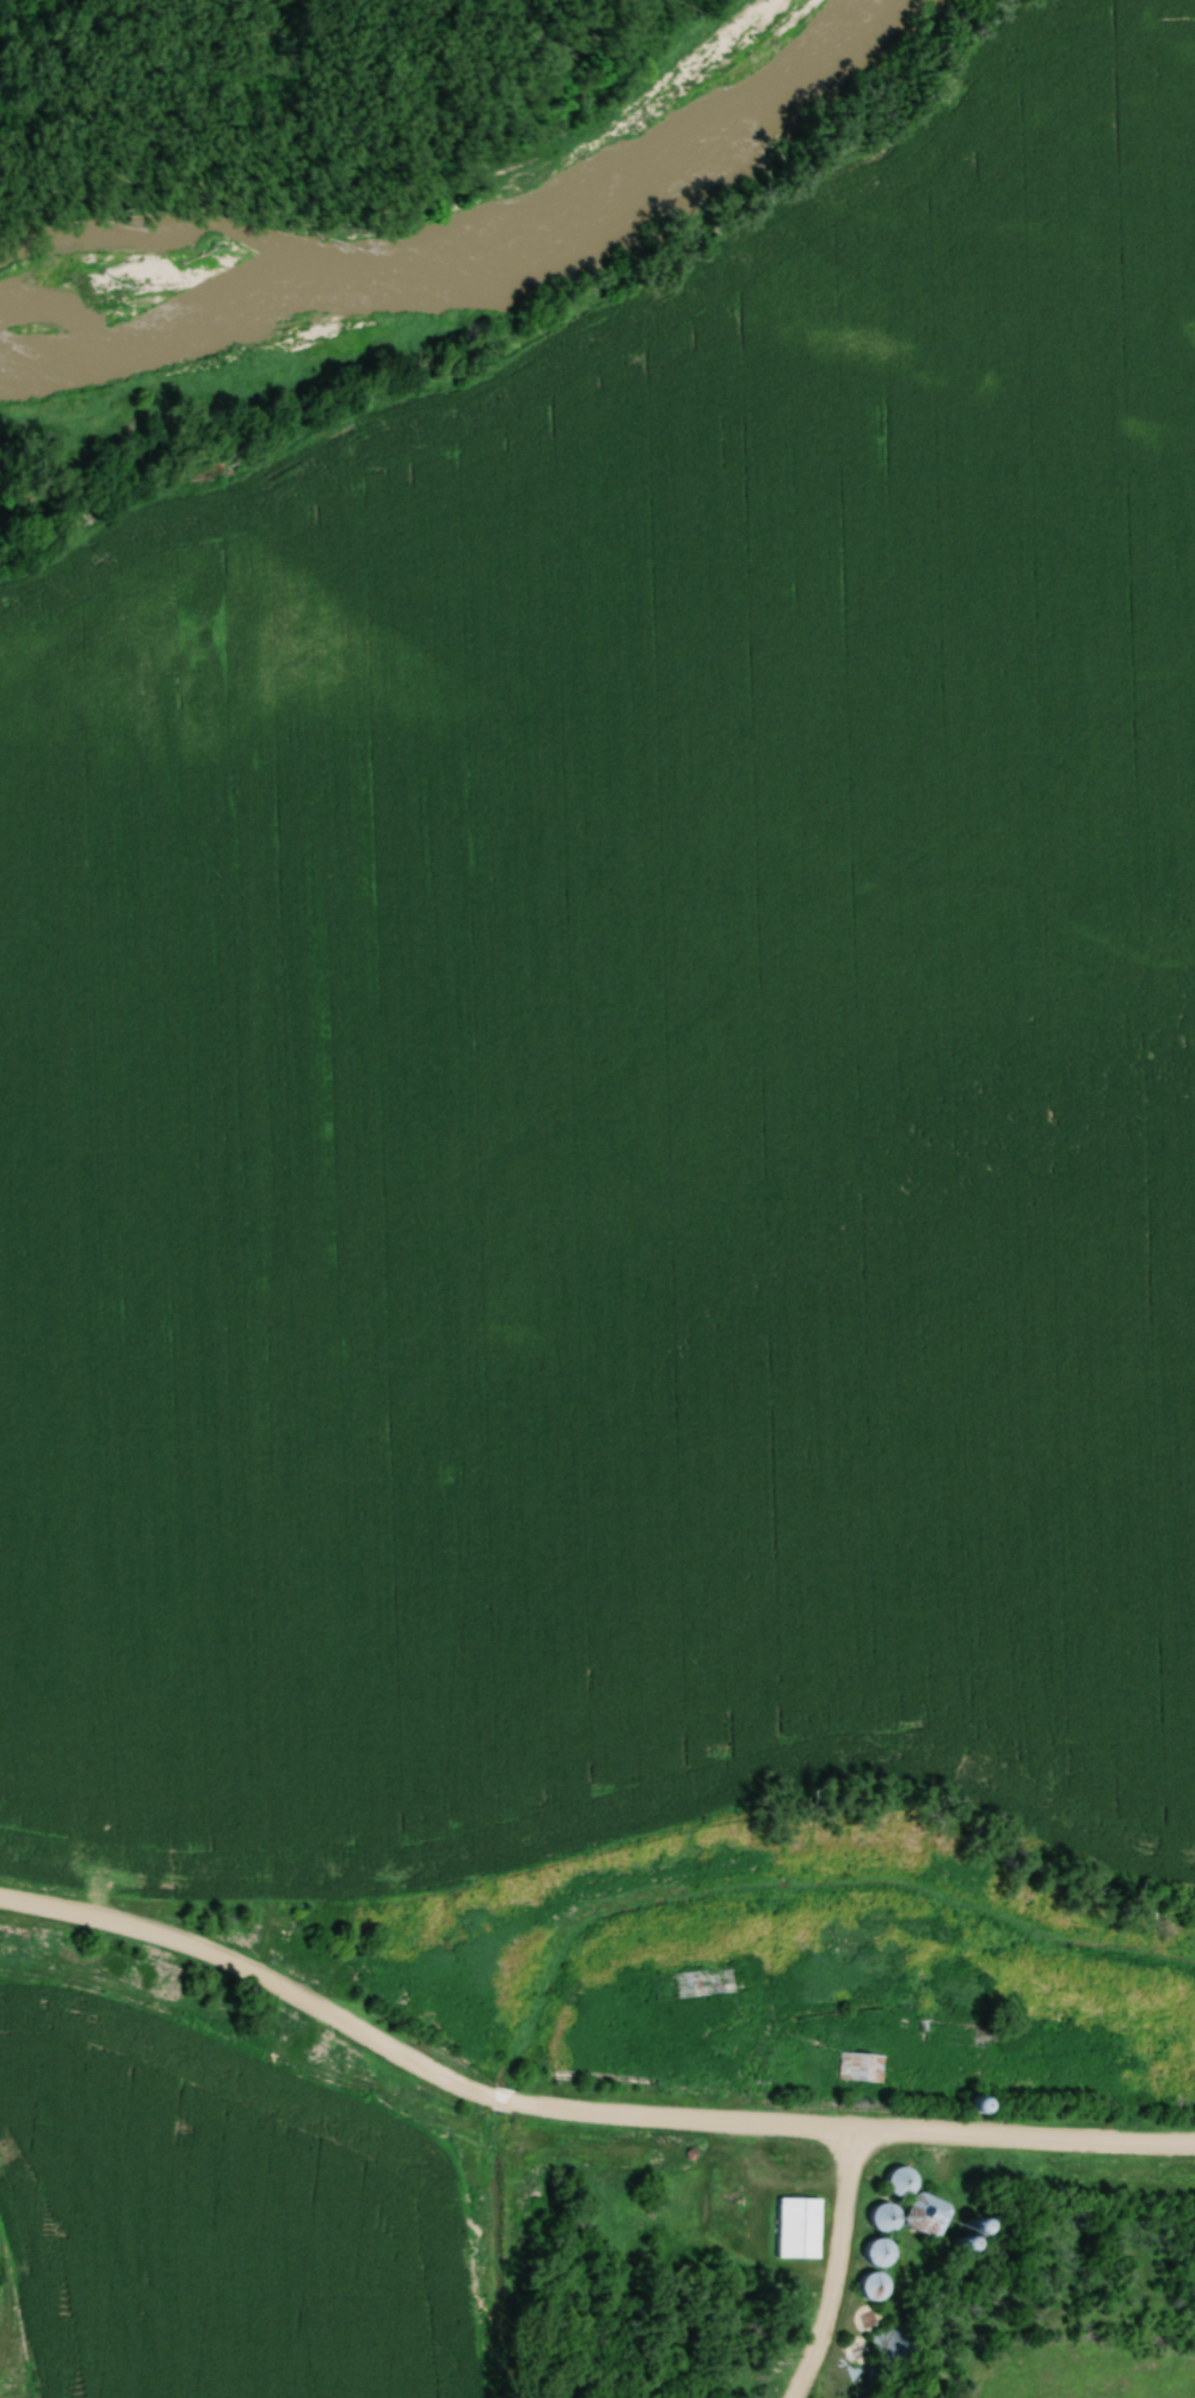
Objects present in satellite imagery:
river: (446, 241)
building: (703, 1981)
building: (860, 2066)
building: (967, 2103)
road: (575, 2109)
building: (893, 2182)
building: (922, 2214)
building: (879, 2218)
building: (793, 2227)
building: (874, 2252)
road: (839, 2268)
building: (867, 2286)

